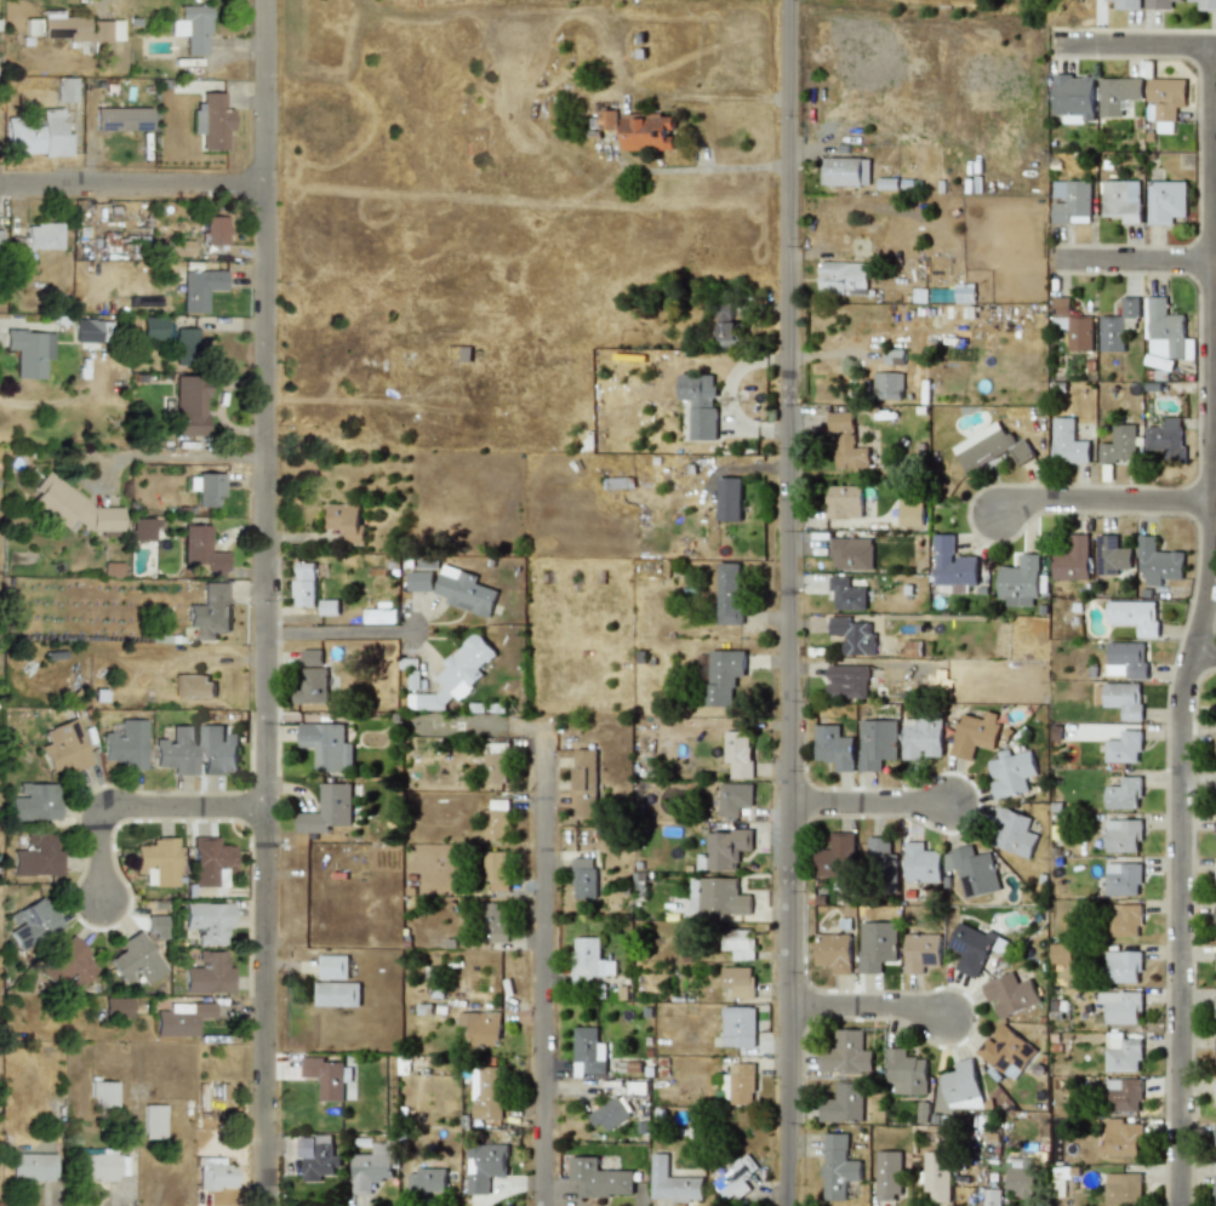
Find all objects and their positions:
building: (1125, 4)
building: (1158, 4)
building: (1205, 5)
building: (30, 27)
building: (190, 28)
road: (1135, 47)
building: (63, 88)
building: (1117, 96)
building: (1073, 98)
building: (1165, 101)
building: (121, 119)
building: (607, 121)
building: (212, 122)
building: (647, 132)
building: (38, 136)
building: (844, 171)
road: (137, 190)
building: (1120, 200)
building: (1071, 201)
building: (1165, 201)
building: (213, 230)
building: (41, 236)
road: (1134, 262)
building: (843, 279)
building: (199, 288)
building: (964, 292)
road: (1, 319)
building: (1072, 325)
building: (724, 326)
building: (1117, 326)
building: (152, 328)
building: (1164, 332)
building: (89, 333)
building: (185, 345)
building: (28, 351)
building: (892, 355)
building: (887, 385)
building: (700, 404)
building: (189, 406)
building: (1166, 436)
building: (845, 444)
building: (1067, 444)
building: (1119, 444)
building: (989, 447)
road: (122, 457)
building: (206, 487)
building: (729, 499)
building: (843, 502)
road: (1101, 502)
building: (72, 507)
building: (909, 510)
building: (344, 521)
building: (142, 528)
building: (201, 549)
building: (851, 554)
building: (1111, 555)
building: (1072, 560)
building: (1157, 562)
building: (952, 565)
building: (419, 581)
building: (1018, 582)
building: (303, 584)
building: (464, 591)
building: (727, 593)
building: (846, 594)
road: (273, 602)
road: (789, 602)
building: (327, 607)
building: (210, 611)
building: (379, 616)
building: (1134, 616)
road: (1199, 628)
road: (343, 629)
building: (852, 635)
road: (1204, 653)
building: (310, 657)
building: (1126, 659)
building: (456, 675)
building: (723, 675)
building: (847, 682)
building: (192, 686)
building: (312, 686)
building: (1123, 699)
road: (486, 724)
building: (974, 735)
building: (921, 737)
building: (877, 743)
building: (125, 744)
building: (1125, 744)
building: (326, 745)
building: (63, 747)
building: (833, 747)
building: (176, 750)
building: (217, 750)
building: (736, 753)
building: (495, 767)
building: (1011, 773)
building: (583, 783)
building: (1121, 794)
building: (731, 799)
building: (34, 801)
road: (870, 804)
building: (327, 810)
road: (148, 813)
building: (496, 819)
building: (1012, 834)
building: (1121, 836)
building: (723, 850)
building: (35, 856)
building: (837, 857)
building: (881, 857)
building: (156, 862)
building: (209, 862)
building: (921, 864)
building: (495, 870)
building: (971, 870)
building: (583, 879)
building: (1121, 879)
building: (1215, 881)
building: (721, 897)
building: (1123, 920)
building: (206, 921)
building: (32, 922)
building: (496, 922)
building: (153, 926)
building: (1215, 927)
building: (1215, 938)
building: (736, 943)
building: (875, 945)
building: (969, 949)
building: (833, 951)
building: (920, 951)
building: (1061, 953)
building: (133, 960)
building: (589, 960)
building: (68, 966)
building: (332, 966)
building: (1123, 967)
building: (206, 974)
road: (542, 977)
building: (737, 981)
building: (336, 994)
building: (1009, 994)
building: (116, 1007)
road: (868, 1007)
building: (1120, 1007)
building: (178, 1017)
building: (1215, 1017)
building: (481, 1027)
building: (737, 1027)
building: (1215, 1028)
building: (1006, 1051)
building: (588, 1052)
building: (846, 1053)
building: (1121, 1053)
building: (1215, 1053)
building: (904, 1073)
building: (325, 1076)
building: (741, 1084)
building: (960, 1087)
building: (102, 1092)
building: (487, 1093)
building: (1124, 1096)
building: (1215, 1099)
building: (843, 1104)
building: (609, 1114)
building: (153, 1121)
building: (1215, 1141)
building: (315, 1158)
building: (99, 1166)
building: (484, 1166)
building: (837, 1166)
building: (32, 1167)
building: (371, 1167)
building: (215, 1173)
building: (887, 1174)
building: (936, 1176)
building: (599, 1178)
building: (735, 1178)
building: (426, 1181)
building: (672, 1182)
building: (1215, 1182)
building: (1020, 1183)
building: (1123, 1188)
building: (992, 1198)

